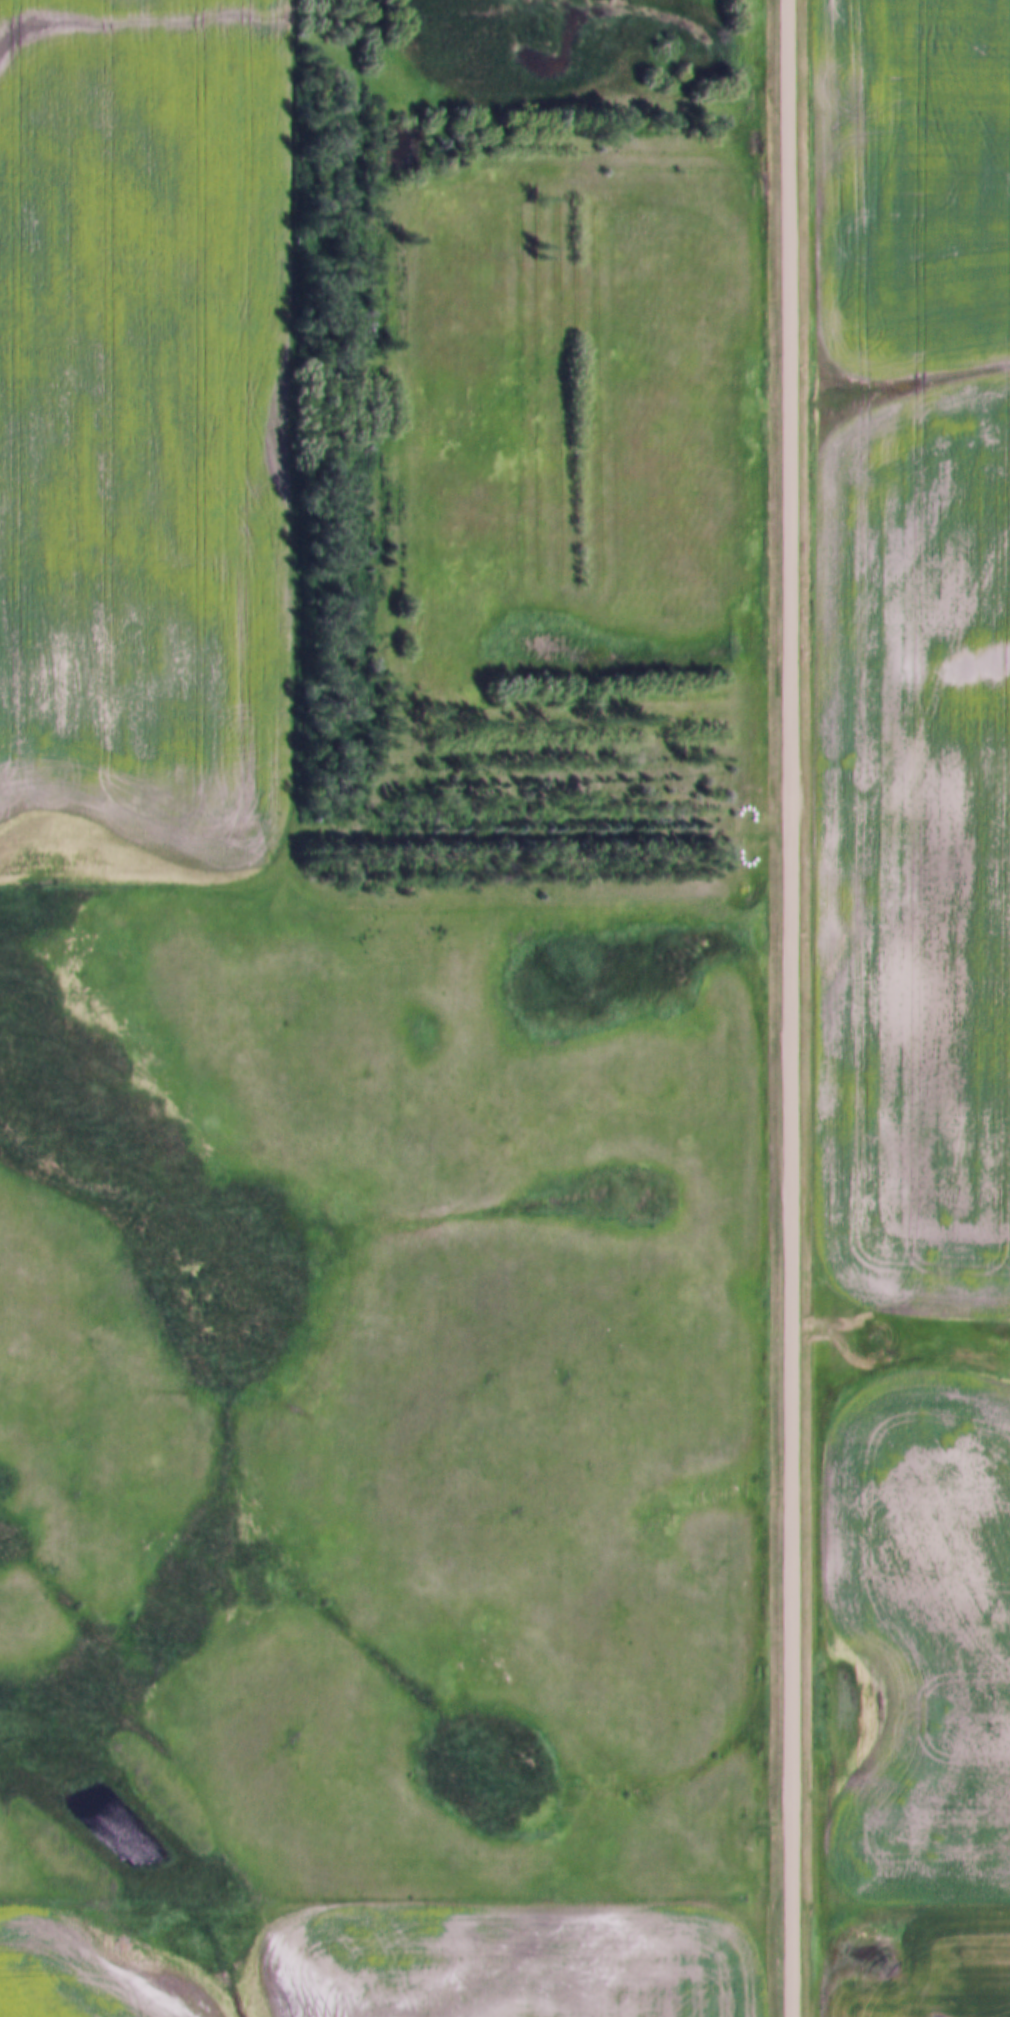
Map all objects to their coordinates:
road: (793, 1008)

